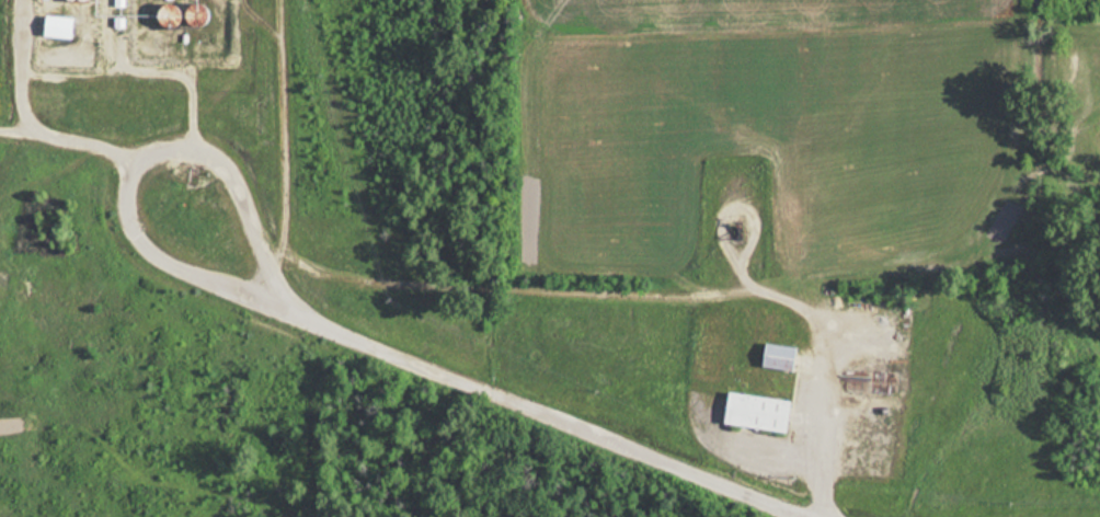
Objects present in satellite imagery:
road: (107, 154)
petroleum well: (737, 228)
building: (771, 356)
road: (827, 361)
road: (474, 388)
building: (749, 411)

